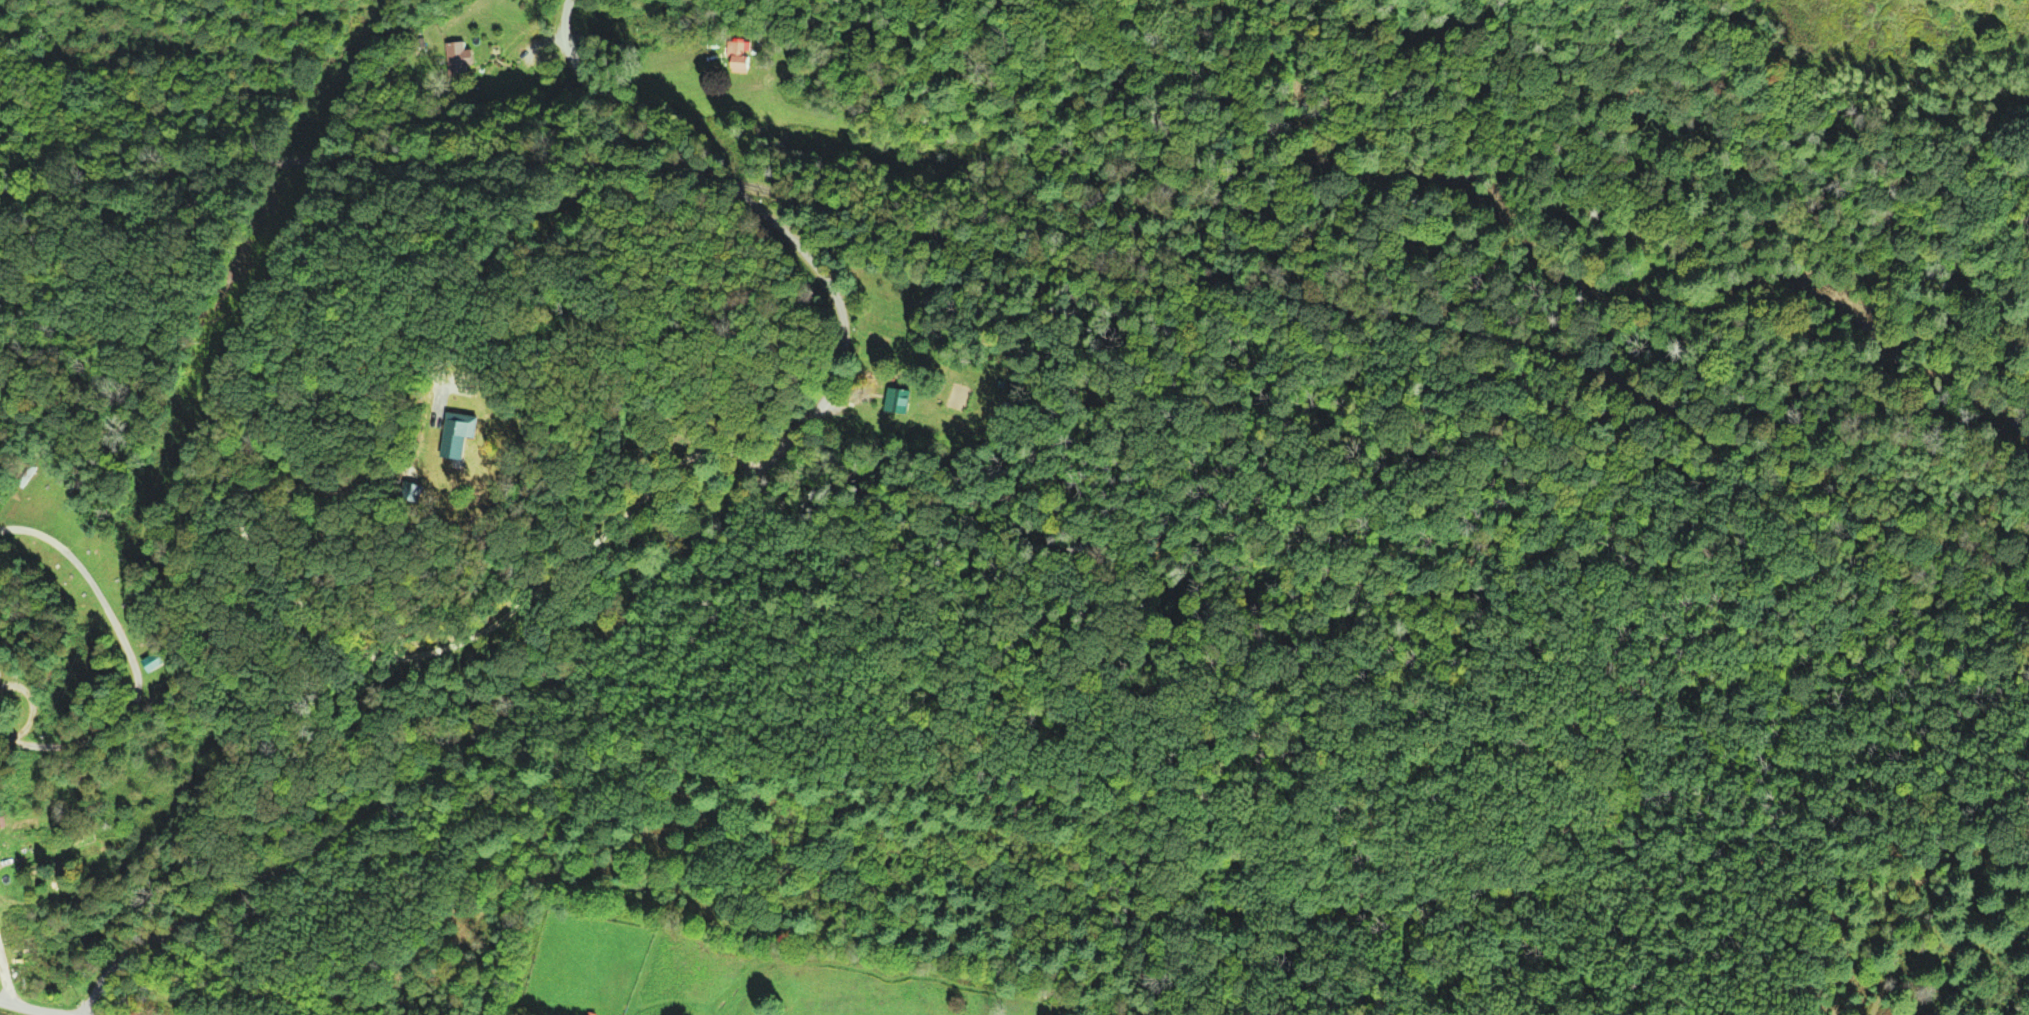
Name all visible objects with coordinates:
road: (562, 29)
building: (457, 56)
building: (737, 58)
railway: (1034, 261)
building: (897, 403)
road: (651, 581)
road: (122, 657)
building: (154, 661)
building: (33, 852)
road: (30, 1007)

